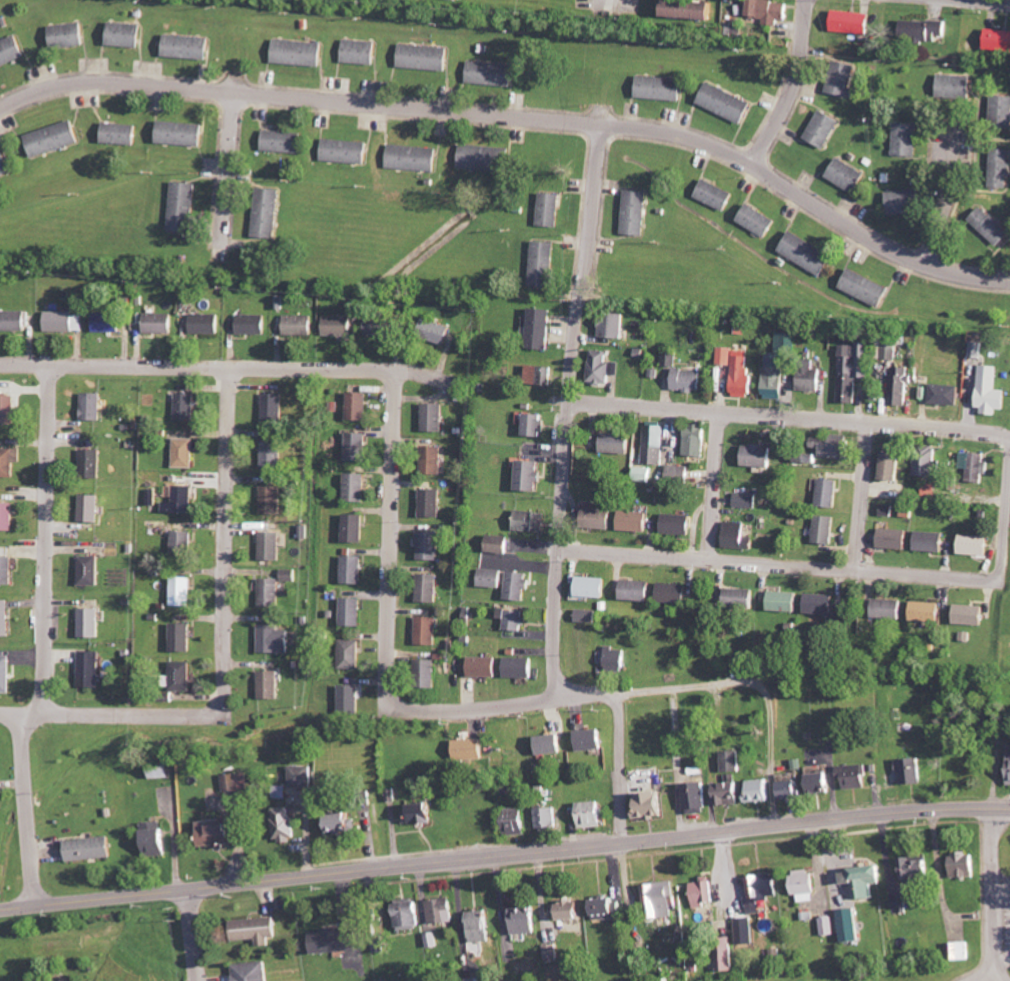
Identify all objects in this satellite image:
building: (689, 9)
building: (771, 11)
building: (855, 22)
building: (925, 30)
building: (125, 35)
building: (68, 36)
building: (999, 40)
building: (187, 47)
building: (10, 51)
building: (361, 52)
building: (300, 53)
building: (425, 57)
building: (491, 73)
building: (843, 78)
road: (794, 87)
building: (956, 87)
building: (661, 88)
building: (728, 103)
building: (1000, 111)
road: (519, 116)
building: (824, 129)
building: (181, 133)
building: (120, 134)
building: (54, 139)
building: (907, 140)
building: (285, 142)
building: (347, 151)
building: (414, 158)
building: (486, 158)
building: (4, 165)
road: (228, 165)
building: (1000, 168)
building: (848, 176)
building: (716, 195)
road: (948, 198)
building: (905, 202)
building: (184, 207)
building: (550, 210)
building: (269, 213)
building: (636, 213)
building: (758, 221)
building: (991, 227)
building: (808, 253)
building: (545, 264)
building: (867, 288)
building: (13, 321)
building: (64, 322)
building: (107, 323)
building: (159, 323)
building: (206, 324)
building: (253, 324)
building: (300, 325)
building: (614, 325)
building: (340, 326)
building: (378, 327)
building: (541, 329)
building: (436, 332)
building: (978, 350)
building: (728, 356)
building: (671, 359)
road: (222, 367)
building: (603, 368)
building: (854, 369)
building: (744, 372)
building: (541, 375)
building: (689, 380)
building: (811, 380)
building: (900, 386)
building: (992, 392)
building: (946, 395)
road: (569, 404)
building: (92, 407)
building: (186, 407)
building: (359, 407)
building: (275, 408)
building: (7, 410)
road: (790, 413)
building: (433, 418)
building: (536, 425)
building: (696, 440)
building: (358, 441)
building: (619, 444)
building: (656, 445)
building: (185, 453)
building: (274, 455)
building: (759, 456)
building: (433, 461)
building: (9, 463)
building: (92, 464)
building: (976, 466)
building: (892, 467)
building: (926, 467)
building: (680, 473)
building: (644, 475)
building: (530, 477)
road: (716, 483)
building: (357, 488)
building: (928, 489)
road: (861, 493)
building: (829, 494)
building: (273, 497)
building: (185, 499)
building: (747, 500)
building: (431, 503)
building: (90, 509)
building: (888, 510)
building: (7, 517)
building: (599, 519)
building: (530, 521)
building: (636, 521)
road: (388, 524)
building: (679, 524)
road: (1005, 524)
building: (355, 529)
building: (826, 530)
building: (740, 537)
road: (44, 539)
building: (895, 539)
building: (931, 542)
road: (224, 544)
building: (500, 544)
building: (183, 545)
building: (272, 546)
building: (429, 546)
building: (975, 546)
road: (778, 563)
building: (354, 570)
building: (6, 571)
building: (91, 571)
building: (291, 575)
building: (492, 578)
building: (519, 586)
building: (594, 587)
building: (429, 589)
building: (639, 591)
building: (183, 592)
building: (272, 593)
building: (675, 594)
building: (743, 598)
building: (786, 602)
building: (822, 604)
building: (889, 609)
building: (927, 612)
building: (353, 613)
building: (971, 615)
building: (587, 616)
building: (5, 619)
building: (514, 621)
building: (91, 624)
building: (427, 631)
building: (182, 638)
building: (275, 640)
building: (352, 655)
building: (616, 659)
building: (483, 667)
building: (519, 668)
building: (90, 670)
building: (426, 674)
building: (6, 675)
building: (181, 677)
building: (270, 686)
building: (350, 699)
road: (462, 707)
road: (105, 715)
road: (620, 739)
building: (590, 741)
building: (549, 745)
building: (470, 750)
building: (733, 760)
building: (817, 769)
building: (912, 770)
building: (1009, 770)
building: (162, 772)
building: (854, 775)
building: (302, 776)
building: (231, 782)
building: (820, 783)
building: (790, 789)
building: (760, 790)
building: (729, 793)
building: (696, 798)
building: (652, 804)
road: (25, 809)
building: (421, 813)
building: (592, 814)
building: (548, 818)
building: (517, 821)
building: (341, 823)
building: (284, 824)
building: (217, 832)
building: (154, 838)
building: (90, 848)
road: (504, 854)
building: (964, 864)
building: (916, 870)
building: (865, 880)
building: (806, 882)
building: (764, 888)
building: (705, 892)
building: (660, 900)
building: (609, 909)
building: (441, 910)
building: (570, 910)
building: (408, 914)
building: (525, 920)
building: (851, 924)
building: (480, 926)
building: (828, 926)
building: (256, 930)
road: (194, 934)
building: (338, 940)
building: (433, 940)
building: (960, 950)
building: (552, 951)
building: (727, 957)
building: (253, 971)
building: (477, 979)

